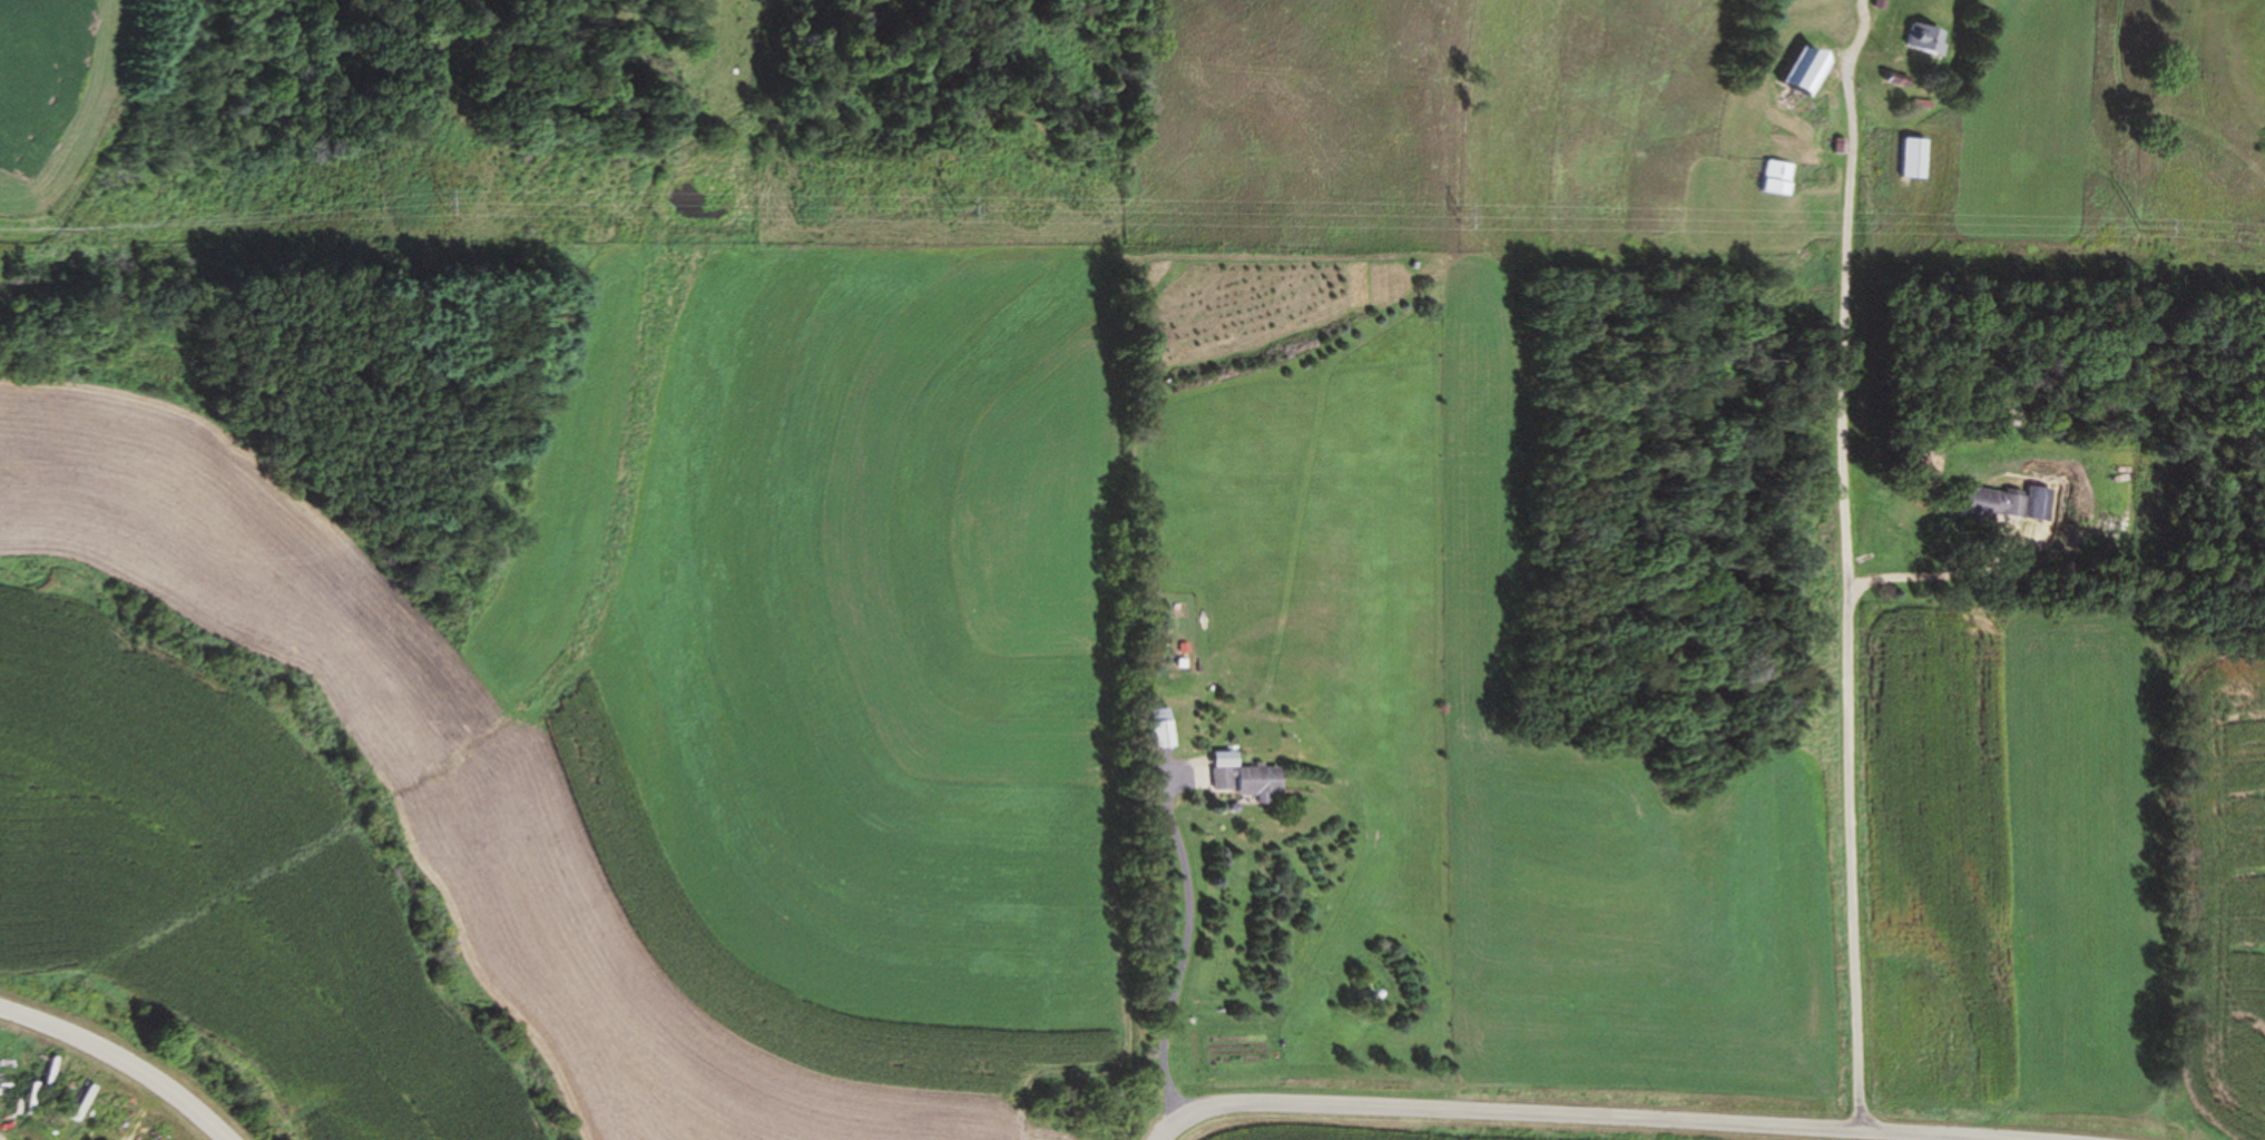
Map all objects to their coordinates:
building: (1922, 40)
building: (1811, 71)
building: (1781, 179)
building: (1994, 505)
road: (1865, 580)
building: (1161, 730)
building: (1249, 783)
road: (115, 1064)
road: (1595, 1113)

